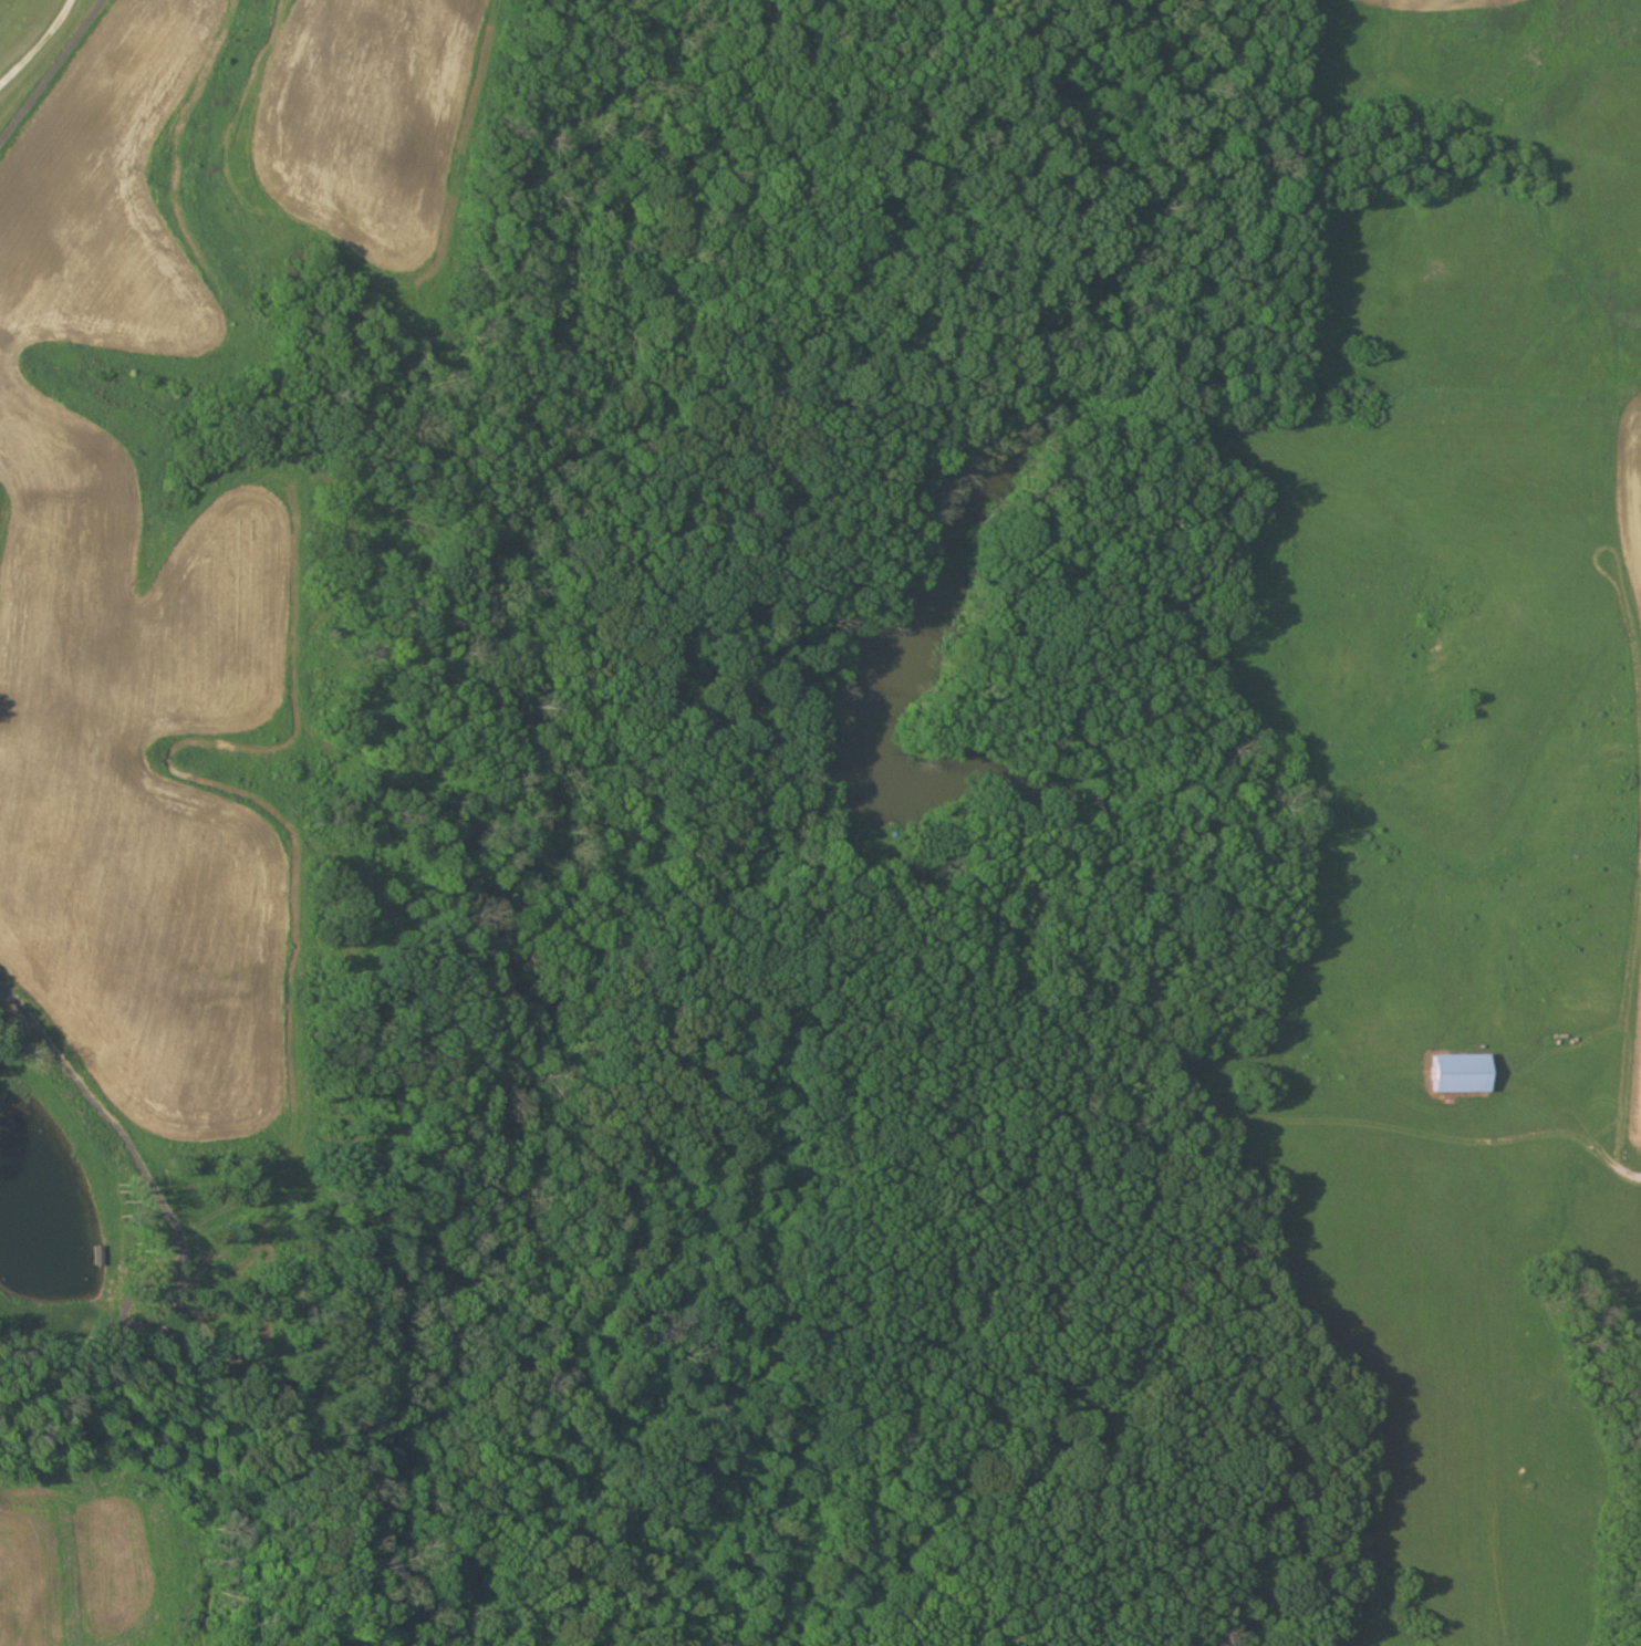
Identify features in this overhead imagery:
road: (38, 46)
building: (1456, 1075)
road: (1582, 1129)
building: (101, 1257)

